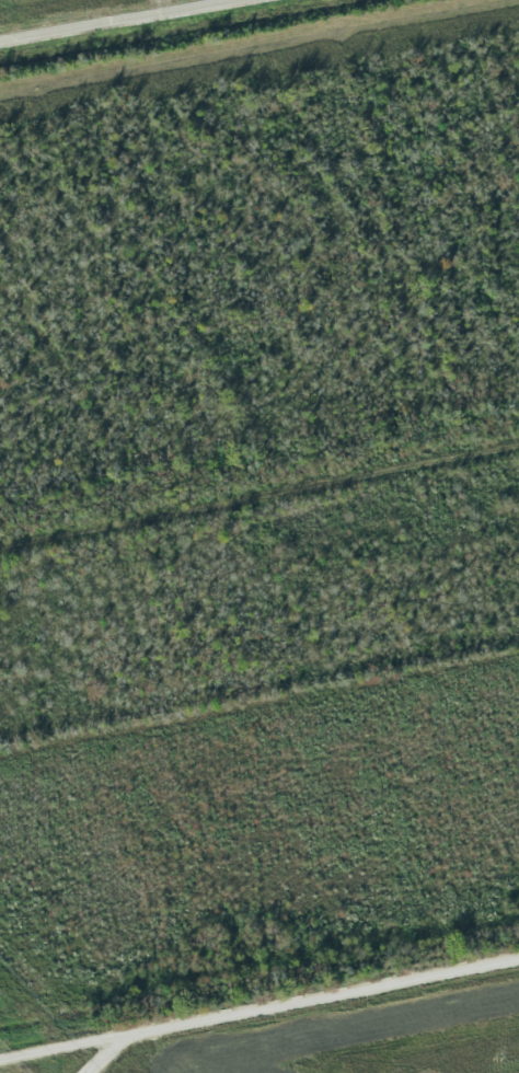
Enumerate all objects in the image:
road: (123, 21)
road: (259, 1000)
road: (102, 1052)

